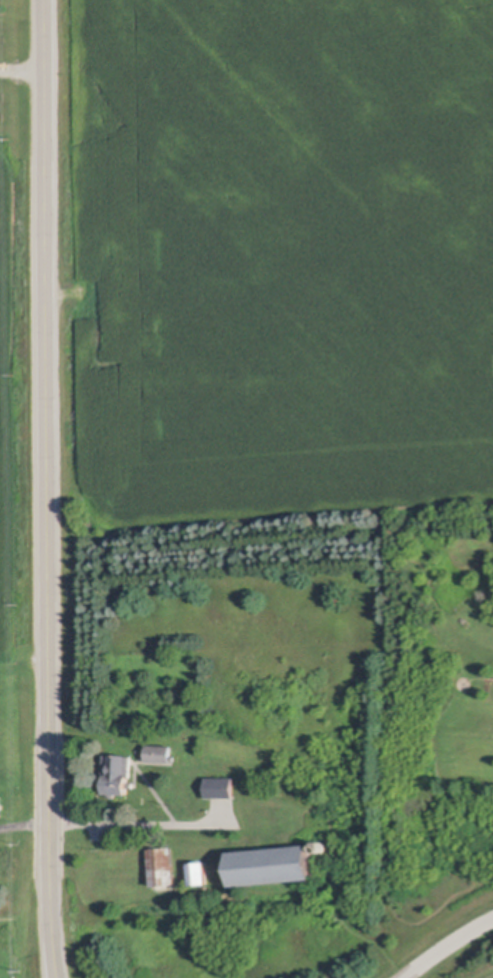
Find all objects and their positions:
road: (21, 70)
crop: (19, 408)
road: (46, 489)
building: (160, 752)
building: (118, 774)
building: (222, 786)
building: (0, 810)
road: (138, 822)
road: (24, 823)
building: (321, 846)
building: (273, 863)
building: (165, 865)
building: (3, 869)
building: (200, 872)
road: (445, 945)

